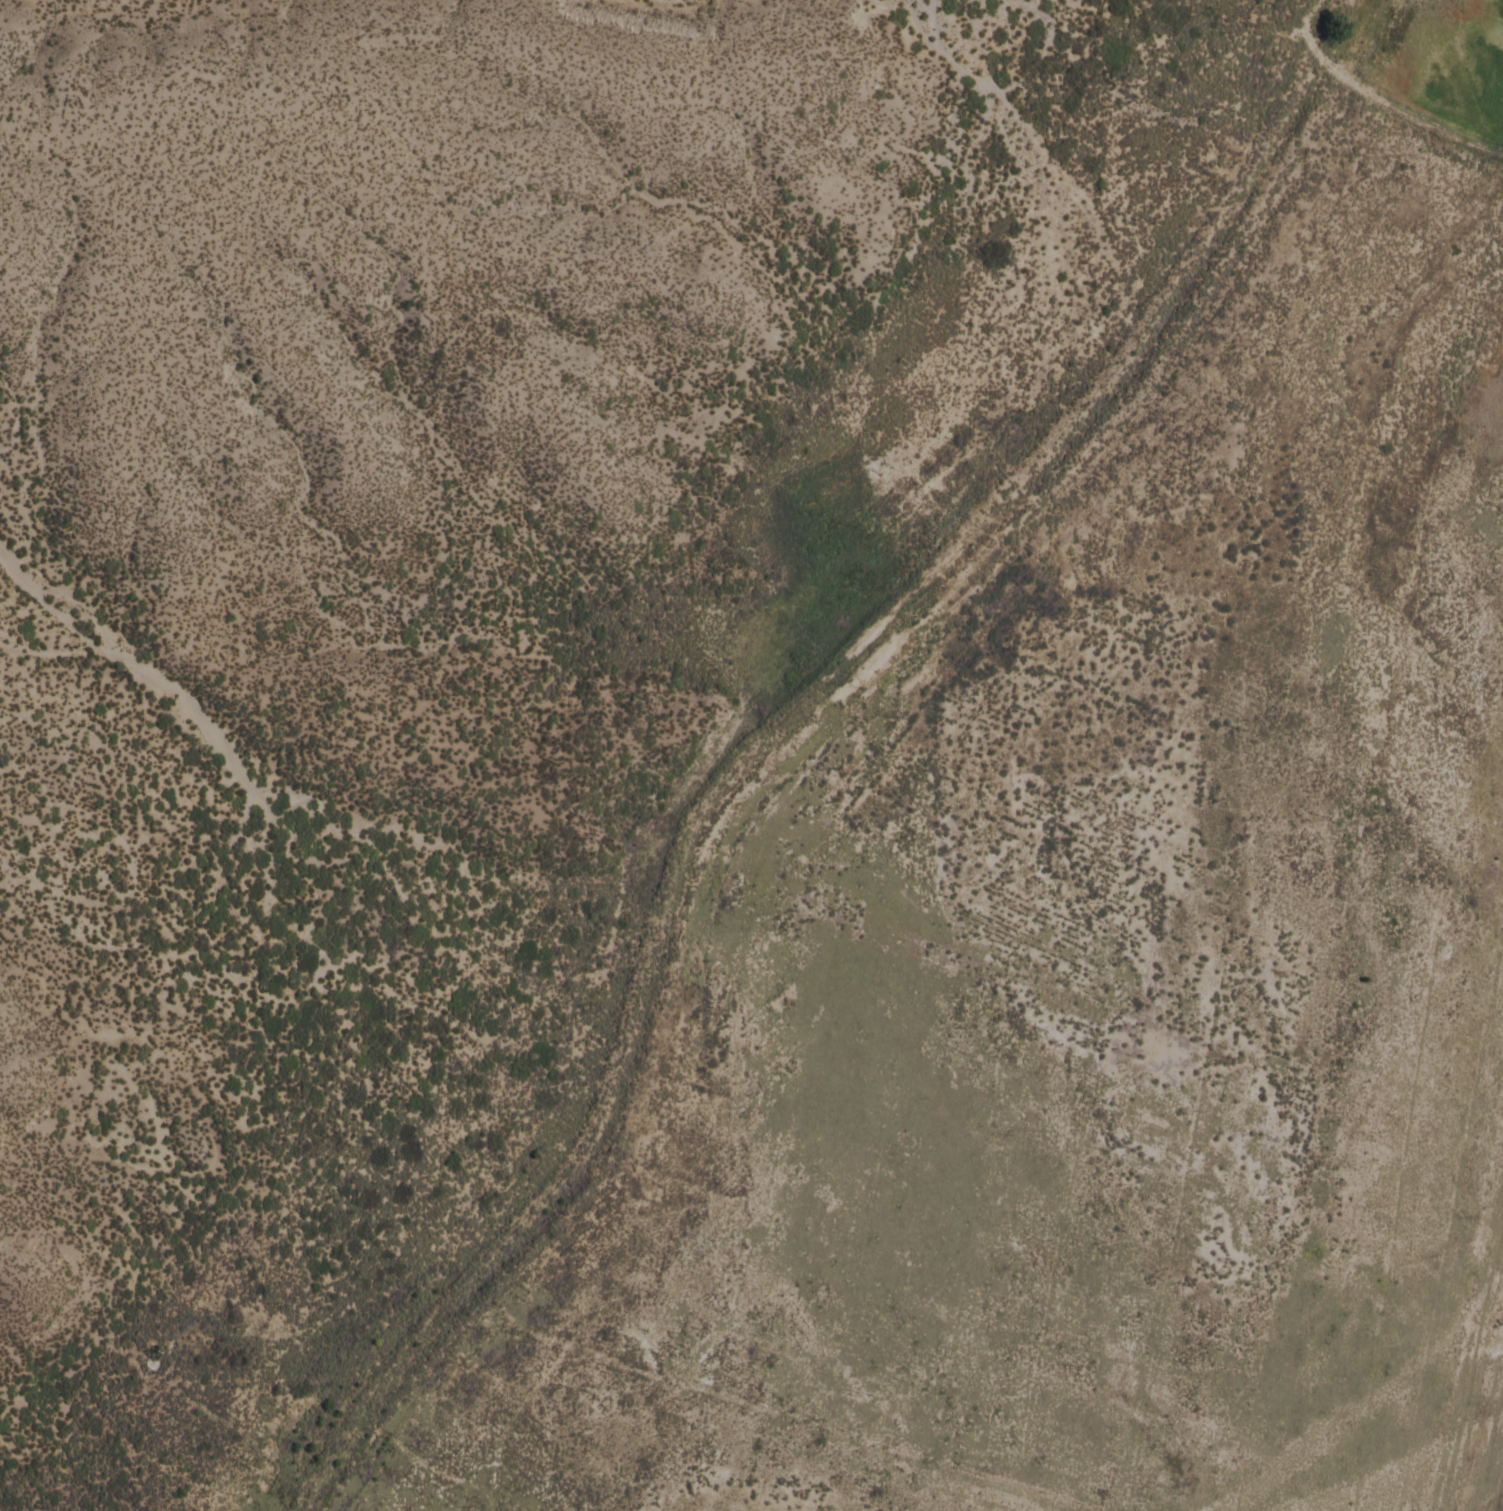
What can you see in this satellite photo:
road: (1331, 69)
road: (1452, 134)

